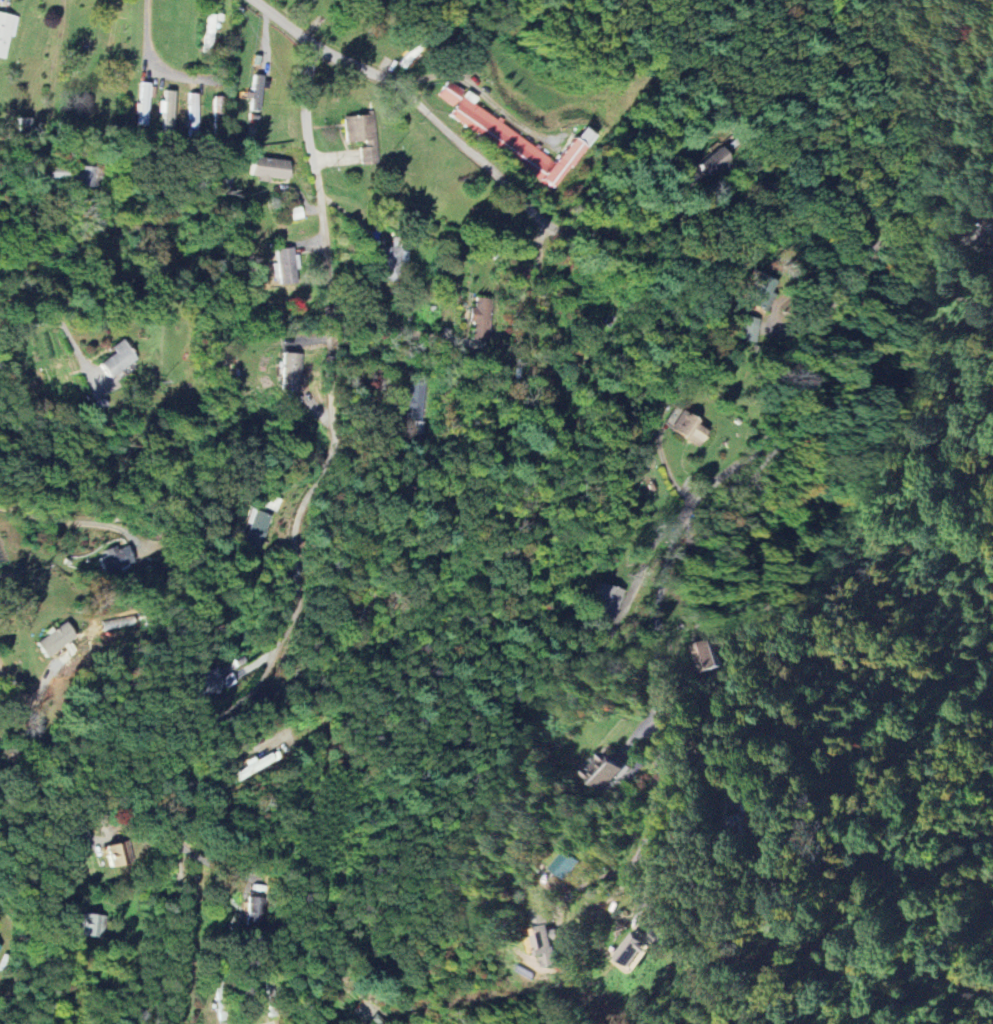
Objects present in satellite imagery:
building: (7, 32)
road: (151, 61)
road: (479, 92)
building: (257, 93)
building: (168, 110)
building: (364, 136)
building: (511, 137)
building: (713, 161)
building: (270, 169)
building: (56, 176)
building: (88, 177)
road: (867, 231)
road: (941, 239)
building: (391, 263)
building: (286, 266)
road: (23, 270)
road: (927, 280)
building: (482, 319)
road: (64, 328)
road: (399, 328)
building: (751, 329)
building: (119, 359)
building: (292, 372)
building: (414, 401)
building: (686, 427)
road: (64, 521)
building: (257, 530)
road: (299, 550)
building: (115, 559)
building: (607, 602)
building: (57, 640)
building: (709, 657)
building: (206, 684)
building: (608, 771)
road: (59, 789)
building: (116, 854)
building: (570, 866)
building: (255, 908)
building: (92, 925)
building: (638, 951)
building: (371, 1022)

